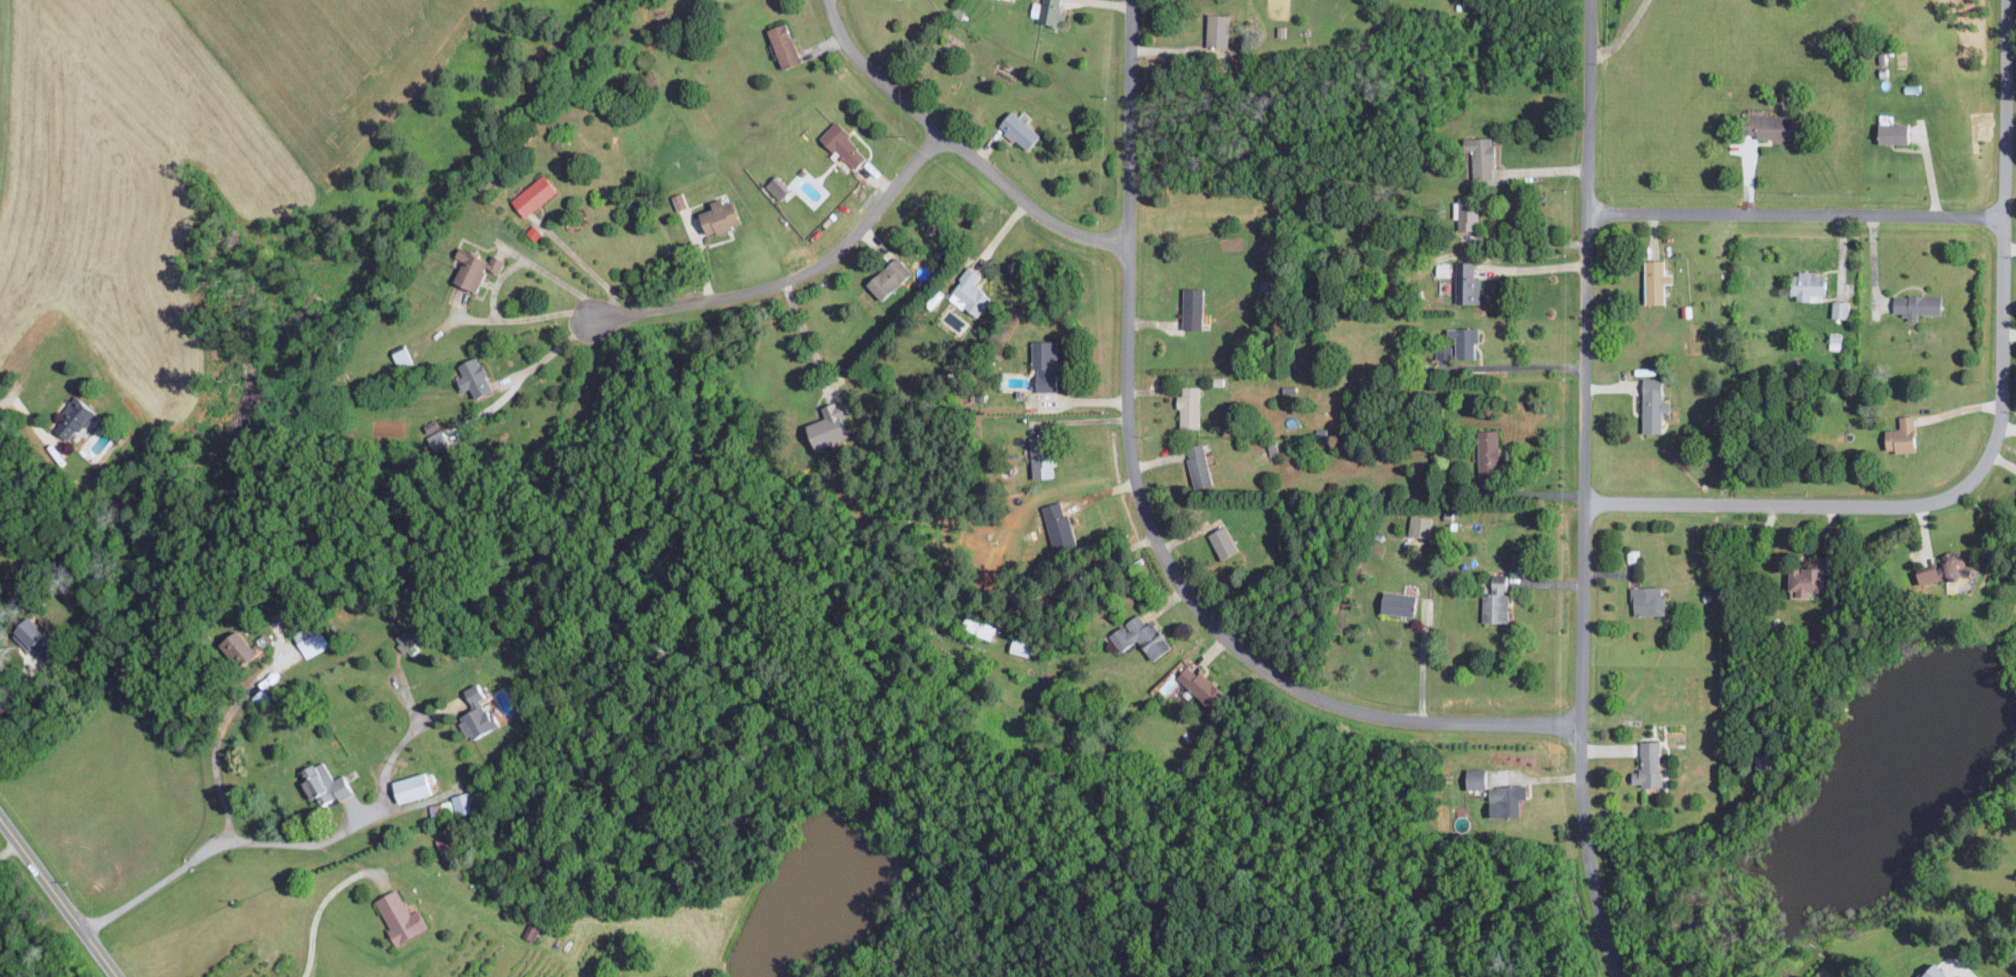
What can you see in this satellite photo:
building: (1036, 9)
building: (1051, 13)
building: (1215, 30)
road: (1624, 34)
building: (780, 44)
building: (1767, 126)
building: (1016, 129)
building: (1890, 132)
road: (963, 142)
building: (841, 145)
building: (1478, 155)
road: (1541, 170)
building: (778, 184)
building: (532, 195)
building: (677, 201)
road: (1795, 212)
building: (1465, 215)
building: (715, 216)
building: (532, 232)
road: (1528, 241)
road: (1875, 262)
road: (584, 263)
road: (1535, 267)
building: (471, 268)
road: (799, 274)
building: (886, 277)
building: (1653, 281)
building: (1467, 283)
building: (1804, 284)
road: (496, 285)
building: (966, 293)
building: (1914, 305)
building: (1190, 308)
building: (1839, 309)
road: (807, 332)
building: (1835, 340)
building: (1462, 341)
road: (550, 352)
building: (1442, 352)
building: (401, 357)
road: (1585, 361)
building: (1042, 364)
road: (1507, 366)
building: (470, 376)
building: (1650, 405)
building: (1187, 406)
road: (28, 414)
building: (69, 420)
building: (826, 426)
building: (1899, 435)
building: (435, 439)
road: (1994, 439)
building: (1486, 450)
building: (1196, 465)
building: (1040, 467)
road: (1535, 493)
building: (2015, 501)
road: (1147, 515)
building: (1056, 526)
building: (1419, 526)
building: (1220, 542)
building: (1955, 572)
building: (1924, 576)
building: (1495, 600)
building: (1646, 600)
building: (1396, 603)
road: (1729, 612)
building: (982, 623)
building: (22, 632)
building: (1138, 636)
building: (309, 642)
building: (406, 644)
building: (1020, 646)
building: (234, 647)
road: (1423, 662)
dam: (1990, 665)
dam: (2010, 684)
building: (1199, 686)
road: (14, 692)
building: (474, 713)
road: (216, 750)
building: (1646, 765)
road: (1536, 777)
building: (1474, 778)
building: (322, 784)
building: (409, 786)
building: (1503, 800)
building: (460, 803)
building: (434, 809)
road: (259, 827)
road: (8, 847)
road: (1592, 851)
road: (57, 898)
road: (316, 913)
building: (397, 917)
building: (529, 932)
building: (1931, 972)

